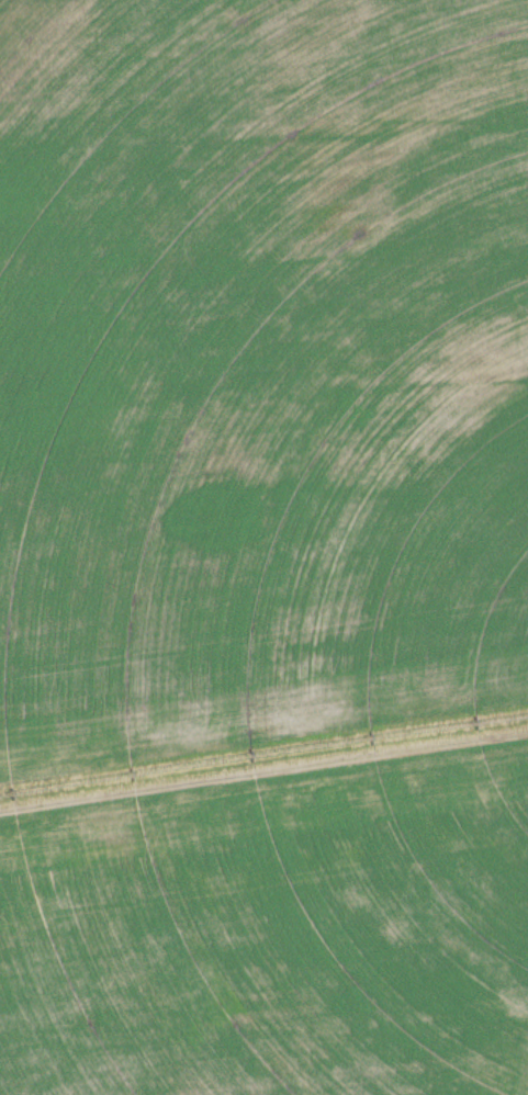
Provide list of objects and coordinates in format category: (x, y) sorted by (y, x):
wastewater plant: (263, 547)

